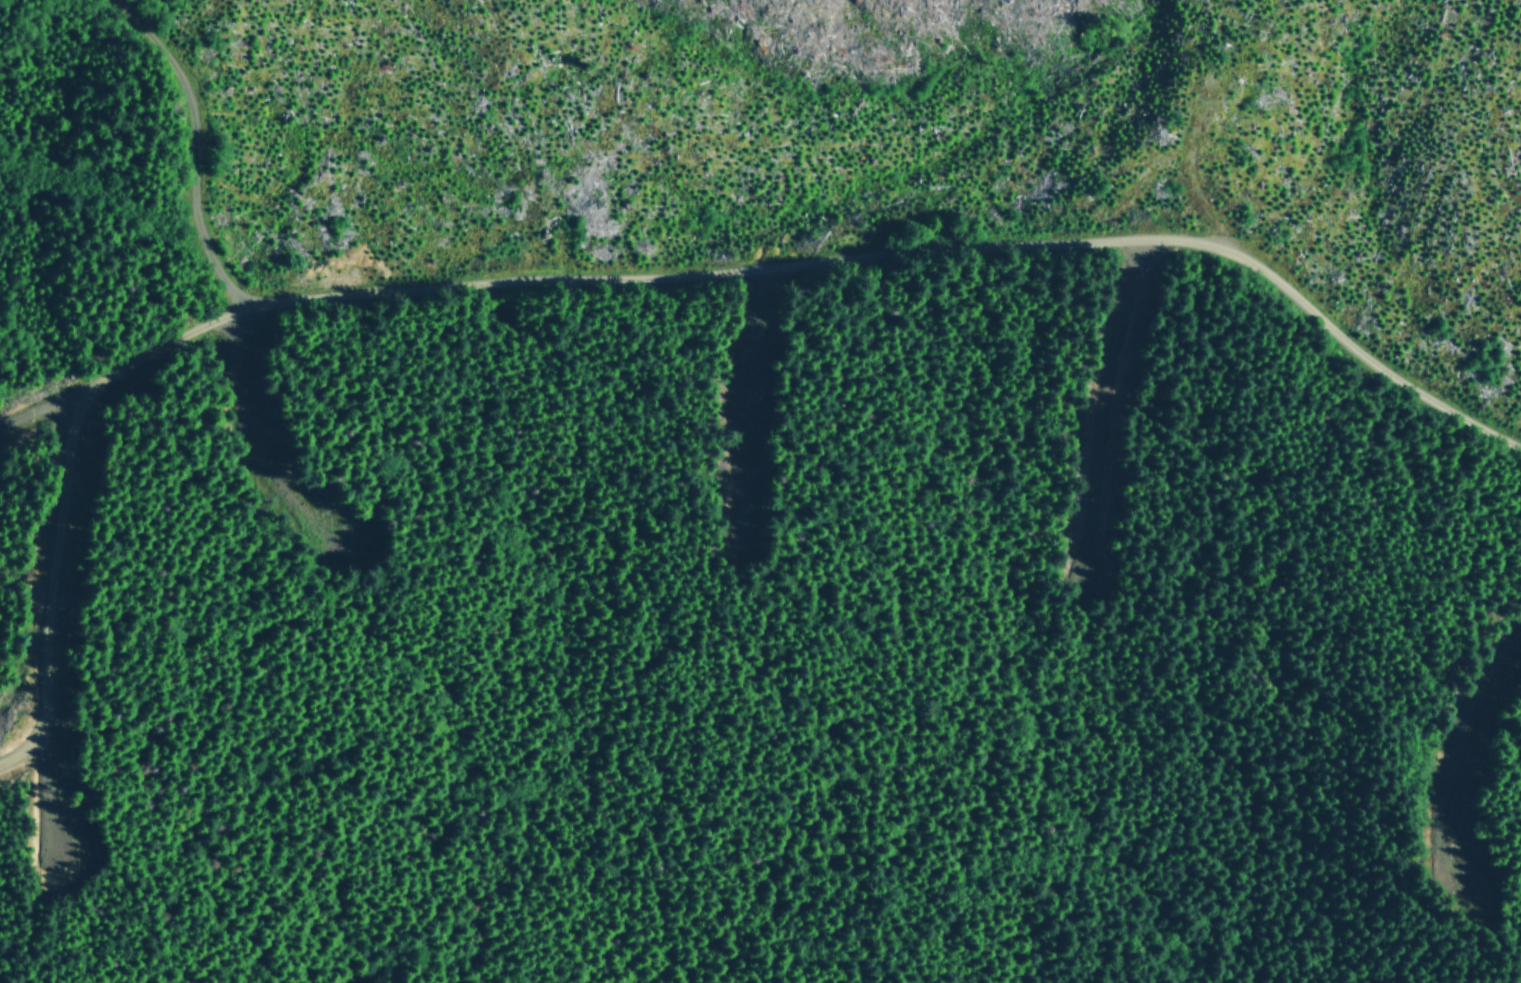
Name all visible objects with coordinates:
road: (191, 145)
road: (909, 249)
road: (121, 367)
road: (1472, 735)

